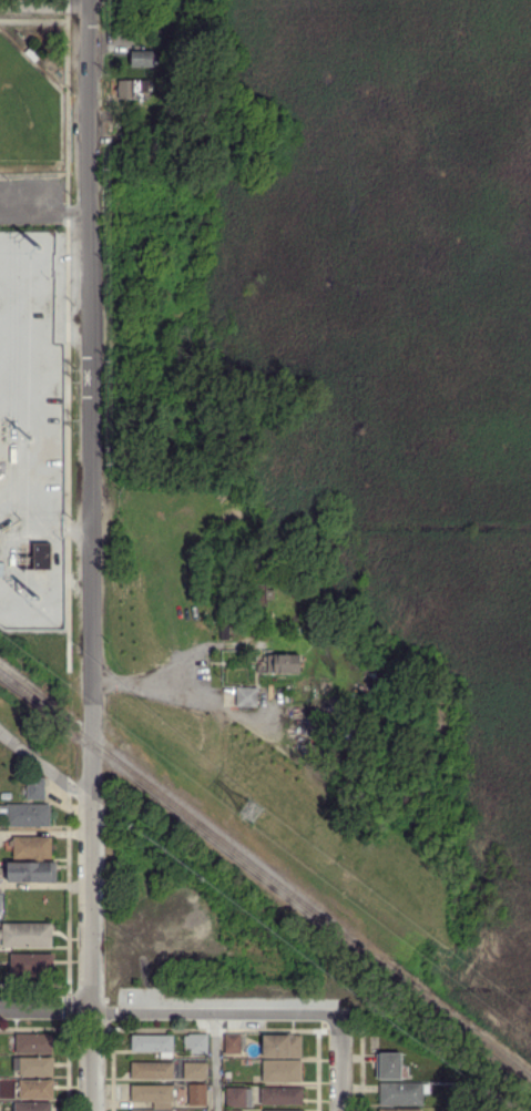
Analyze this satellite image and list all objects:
road: (44, 7)
building: (34, 54)
building: (144, 58)
building: (137, 91)
park: (29, 112)
building: (135, 205)
building: (1, 228)
power substation: (32, 432)
building: (42, 555)
road: (90, 555)
building: (261, 594)
building: (224, 630)
building: (284, 663)
road: (141, 680)
building: (246, 696)
building: (289, 722)
building: (229, 756)
road: (45, 765)
building: (37, 788)
power tower: (255, 807)
building: (27, 814)
building: (32, 847)
building: (32, 872)
railway: (265, 873)
building: (191, 891)
building: (25, 935)
building: (127, 947)
building: (32, 965)
road: (45, 1008)
road: (215, 1012)
building: (197, 1042)
building: (235, 1042)
building: (34, 1043)
building: (154, 1043)
building: (283, 1046)
road: (216, 1062)
road: (339, 1062)
building: (34, 1066)
building: (390, 1066)
building: (152, 1070)
building: (195, 1070)
building: (282, 1071)
building: (258, 1079)
building: (37, 1089)
building: (402, 1093)
road: (493, 1093)
building: (153, 1094)
building: (200, 1094)
building: (283, 1095)
building: (236, 1098)
road: (466, 1101)
building: (33, 1107)
building: (233, 1109)
building: (398, 1109)
building: (153, 1110)
building: (279, 1110)

